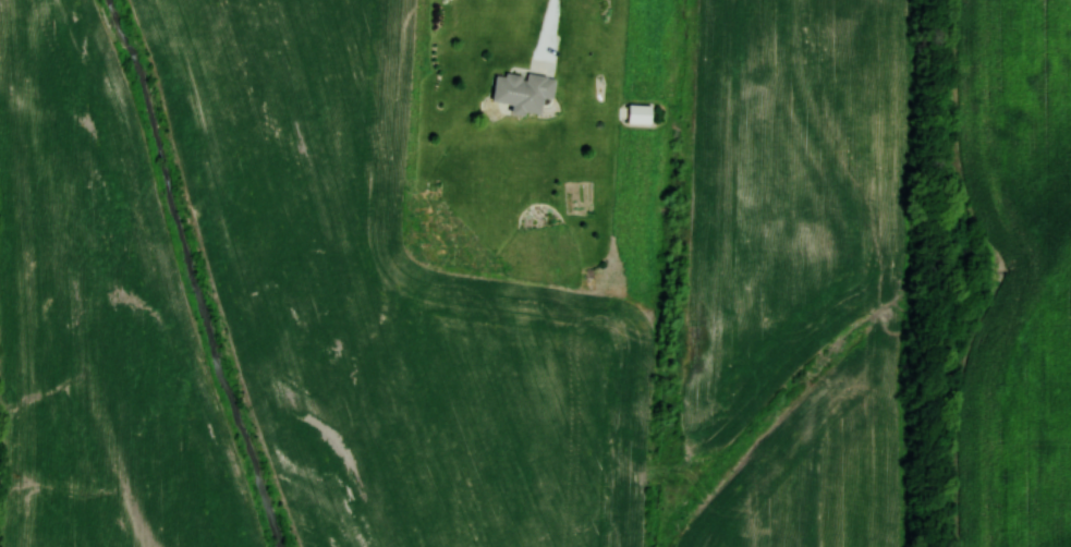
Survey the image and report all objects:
building: (523, 92)
building: (636, 114)

